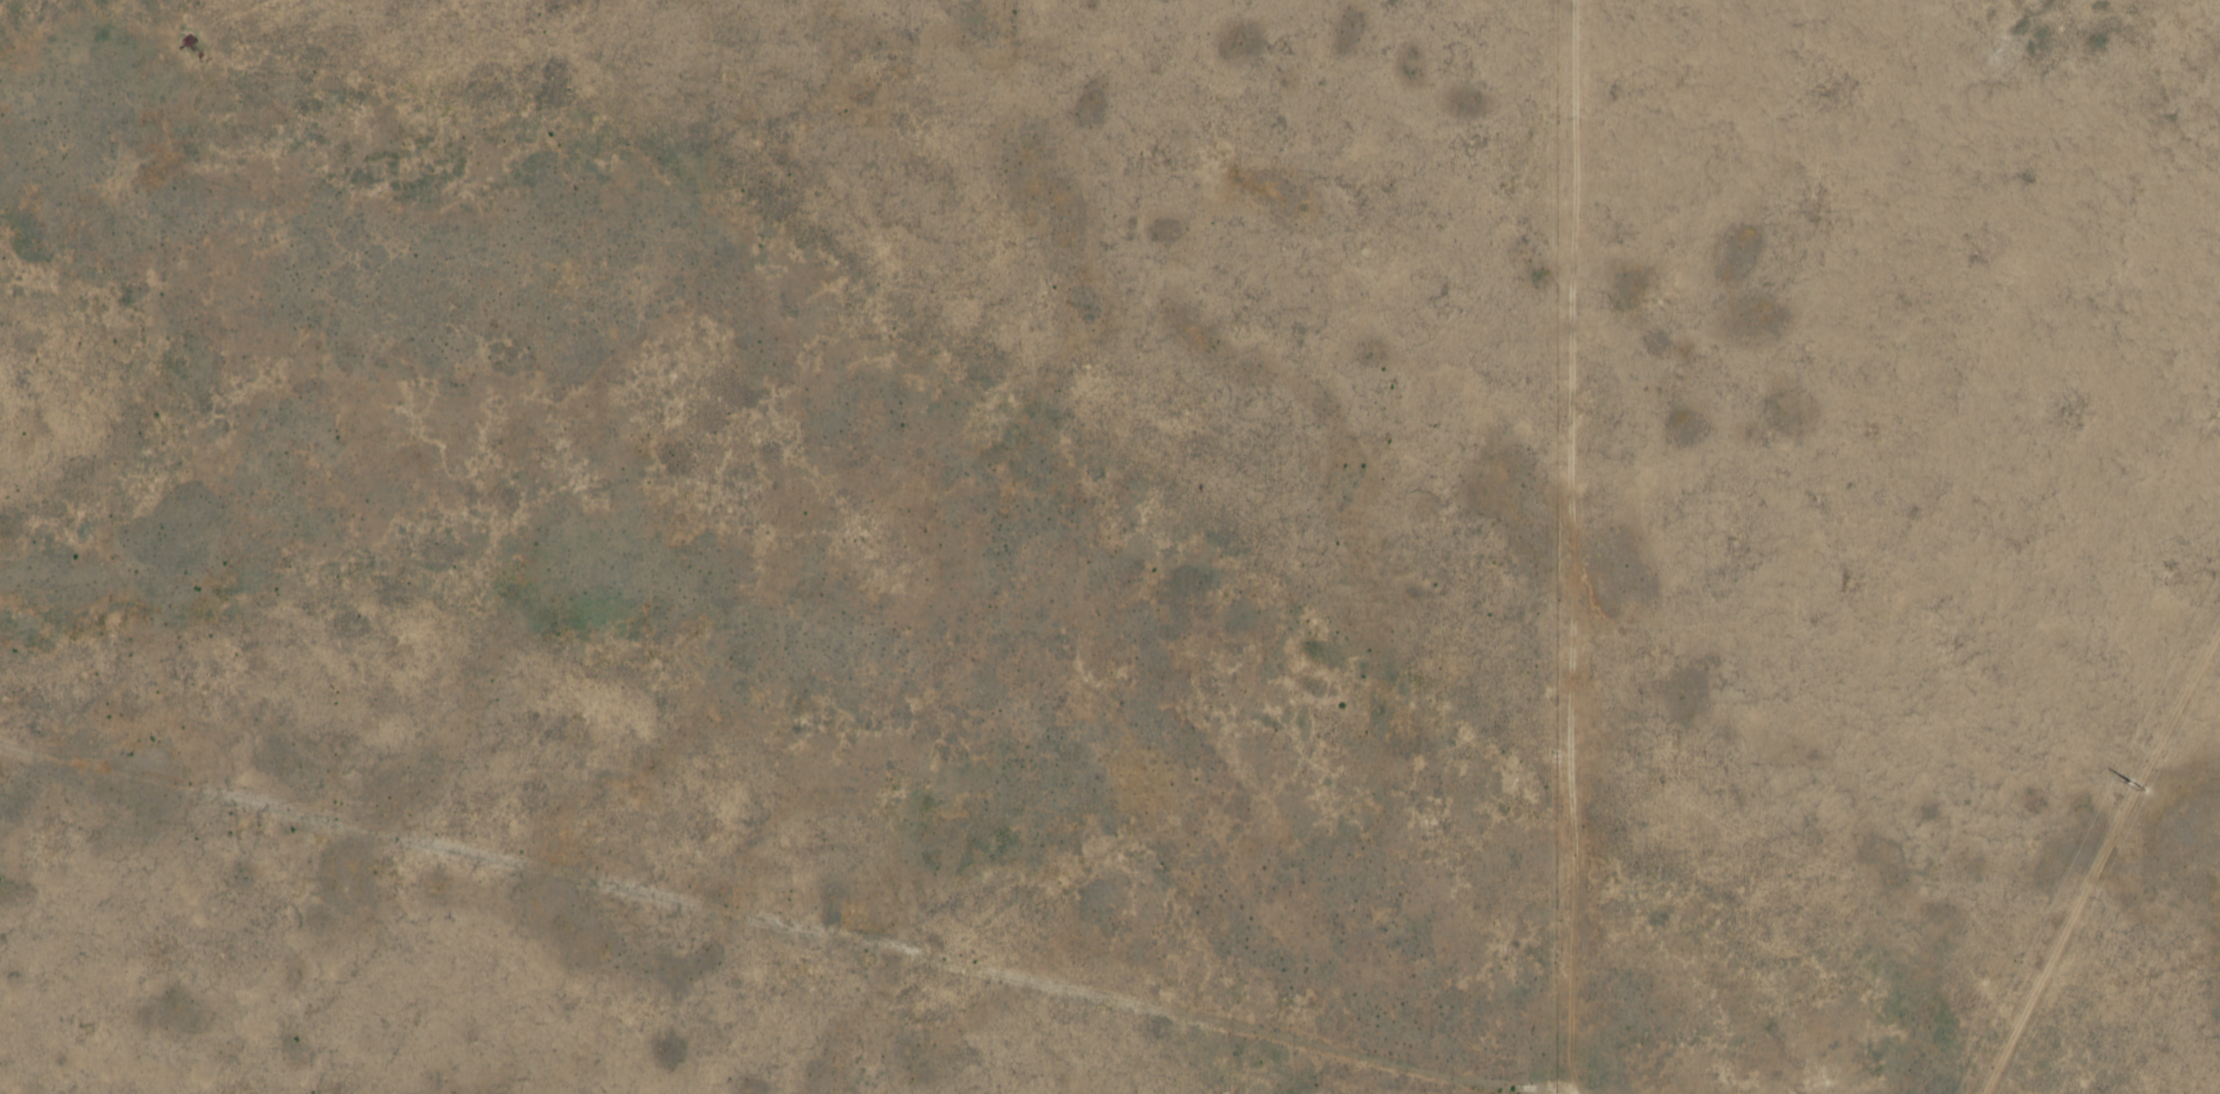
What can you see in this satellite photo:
power tower: (2140, 785)

